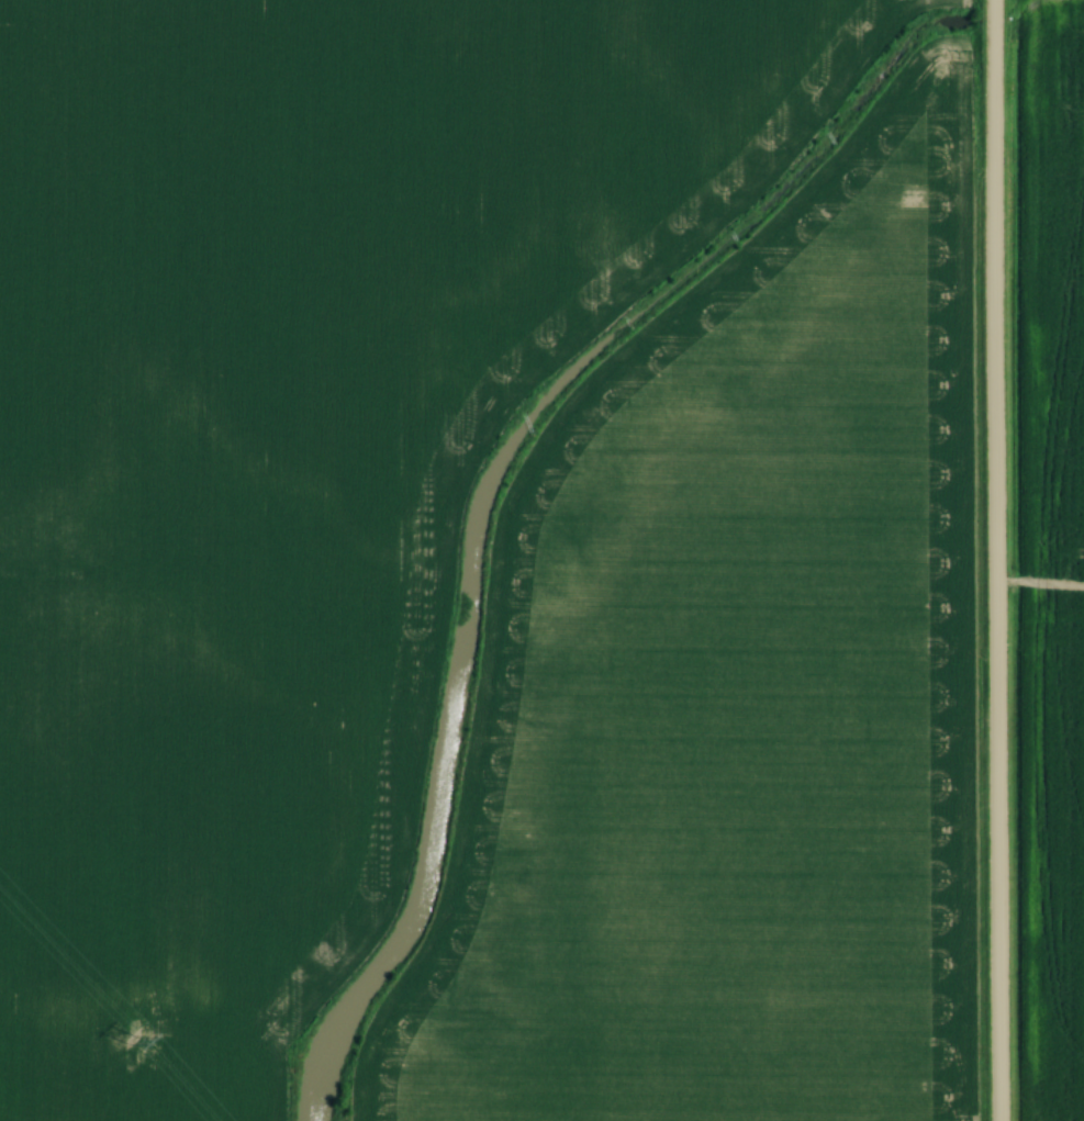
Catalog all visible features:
road: (994, 560)
power tower: (132, 1041)

